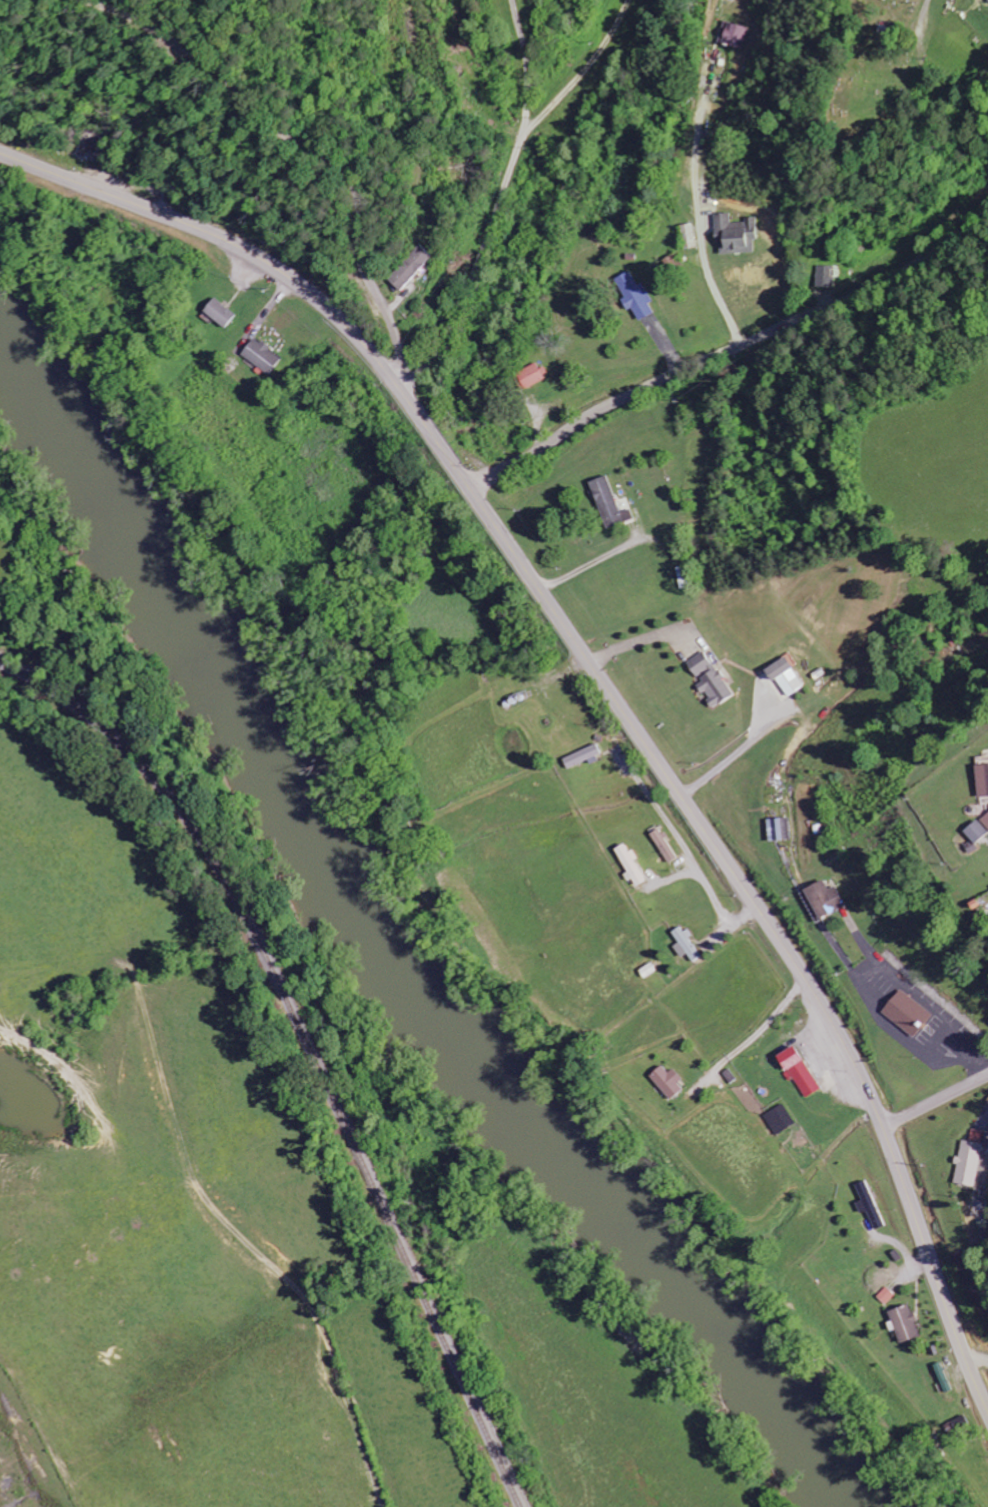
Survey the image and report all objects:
building: (987, 0)
road: (921, 16)
building: (734, 36)
road: (302, 148)
road: (503, 183)
building: (732, 236)
building: (687, 237)
building: (409, 269)
building: (826, 277)
building: (635, 297)
building: (217, 314)
road: (729, 351)
building: (260, 357)
building: (530, 376)
road: (403, 386)
building: (607, 503)
building: (782, 677)
building: (708, 680)
road: (602, 684)
building: (579, 756)
building: (982, 779)
building: (985, 820)
building: (778, 829)
building: (975, 831)
building: (661, 845)
building: (627, 865)
building: (823, 899)
river: (415, 942)
building: (683, 945)
building: (905, 1013)
railway: (287, 1046)
building: (795, 1069)
building: (666, 1082)
road: (934, 1102)
building: (976, 1136)
building: (967, 1163)
building: (867, 1205)
building: (884, 1296)
building: (903, 1323)

